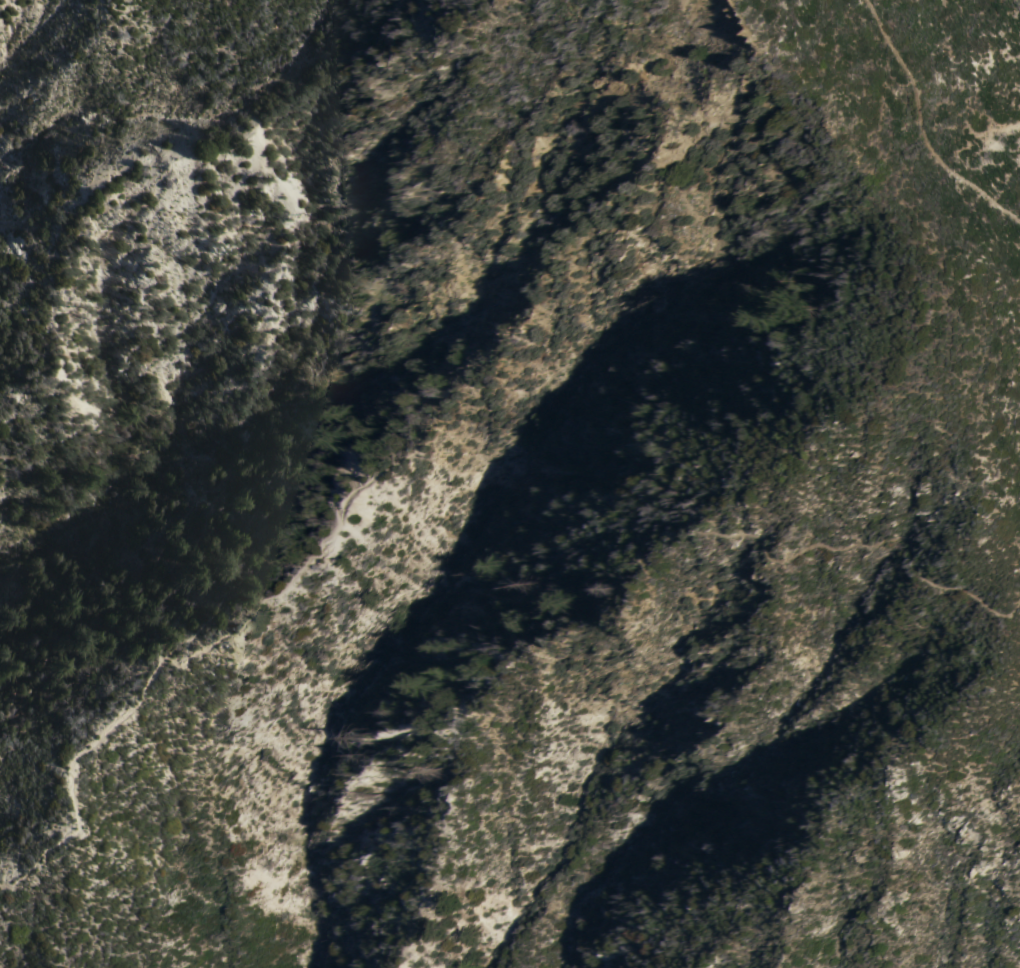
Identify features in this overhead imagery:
road: (922, 125)
road: (410, 457)
road: (142, 693)

